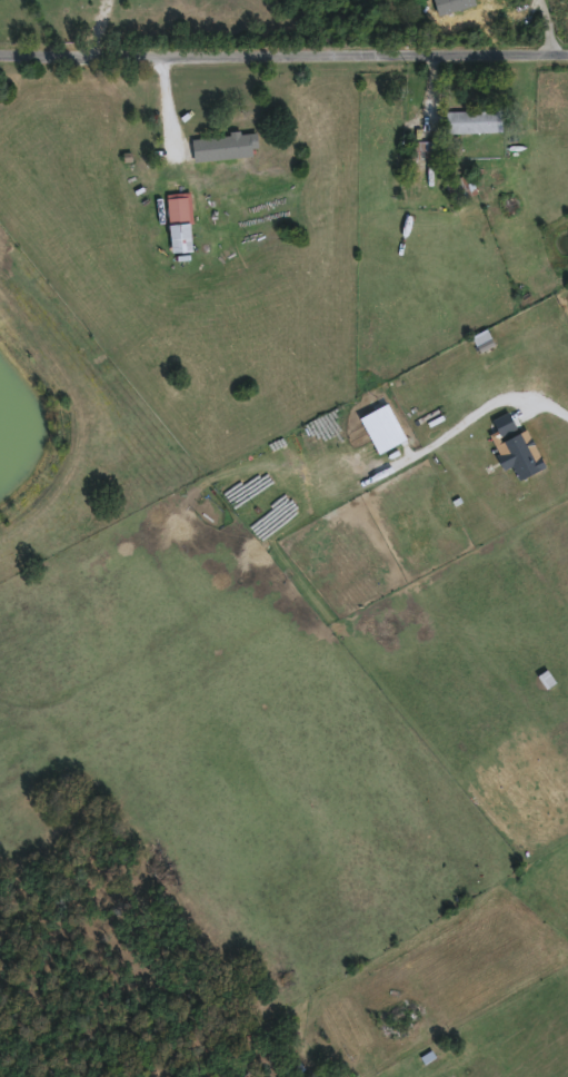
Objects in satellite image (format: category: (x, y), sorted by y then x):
road: (548, 27)
road: (283, 55)
building: (476, 119)
building: (226, 145)
building: (423, 148)
building: (457, 189)
building: (180, 207)
road: (544, 402)

